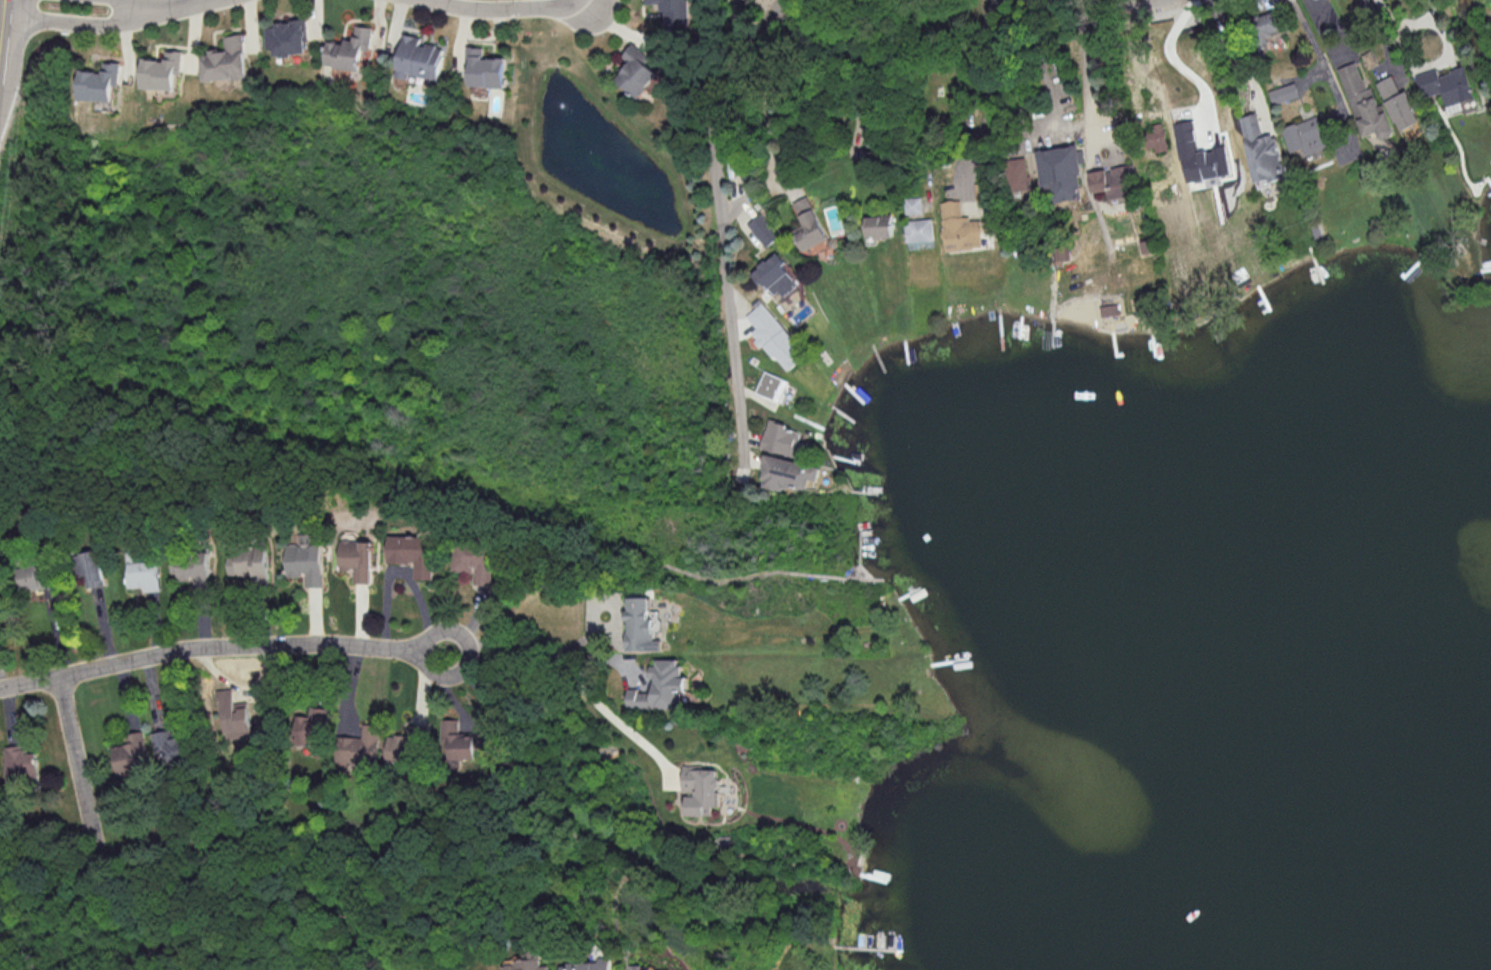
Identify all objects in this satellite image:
road: (1264, 0)
road: (572, 4)
road: (1096, 4)
road: (160, 5)
road: (493, 12)
building: (674, 12)
road: (2, 18)
road: (74, 23)
building: (1271, 24)
road: (1393, 29)
road: (1377, 34)
building: (288, 37)
building: (351, 49)
road: (849, 49)
building: (420, 57)
building: (226, 59)
road: (1041, 60)
road: (1243, 60)
road: (1176, 63)
building: (485, 68)
building: (162, 70)
road: (1084, 70)
road: (1320, 70)
building: (635, 71)
building: (98, 82)
building: (1446, 84)
road: (989, 85)
road: (1021, 85)
building: (1281, 92)
building: (1362, 103)
building: (1400, 108)
building: (1304, 134)
building: (1156, 136)
building: (1260, 151)
building: (1198, 154)
building: (1062, 171)
building: (1019, 173)
building: (1115, 181)
building: (982, 189)
building: (912, 204)
building: (807, 222)
building: (878, 224)
building: (959, 227)
building: (763, 228)
road: (720, 235)
building: (1144, 246)
building: (775, 275)
building: (772, 385)
building: (782, 439)
building: (788, 472)
building: (413, 552)
building: (358, 558)
building: (307, 562)
building: (251, 563)
building: (471, 564)
road: (659, 565)
building: (92, 566)
building: (195, 567)
building: (145, 575)
building: (39, 578)
building: (642, 624)
road: (206, 649)
road: (474, 649)
road: (582, 683)
building: (662, 686)
building: (238, 715)
building: (314, 729)
building: (168, 741)
building: (464, 742)
building: (407, 744)
building: (361, 747)
building: (132, 755)
building: (21, 760)
road: (78, 769)
building: (701, 788)
building: (527, 965)
building: (586, 965)
building: (636, 966)

